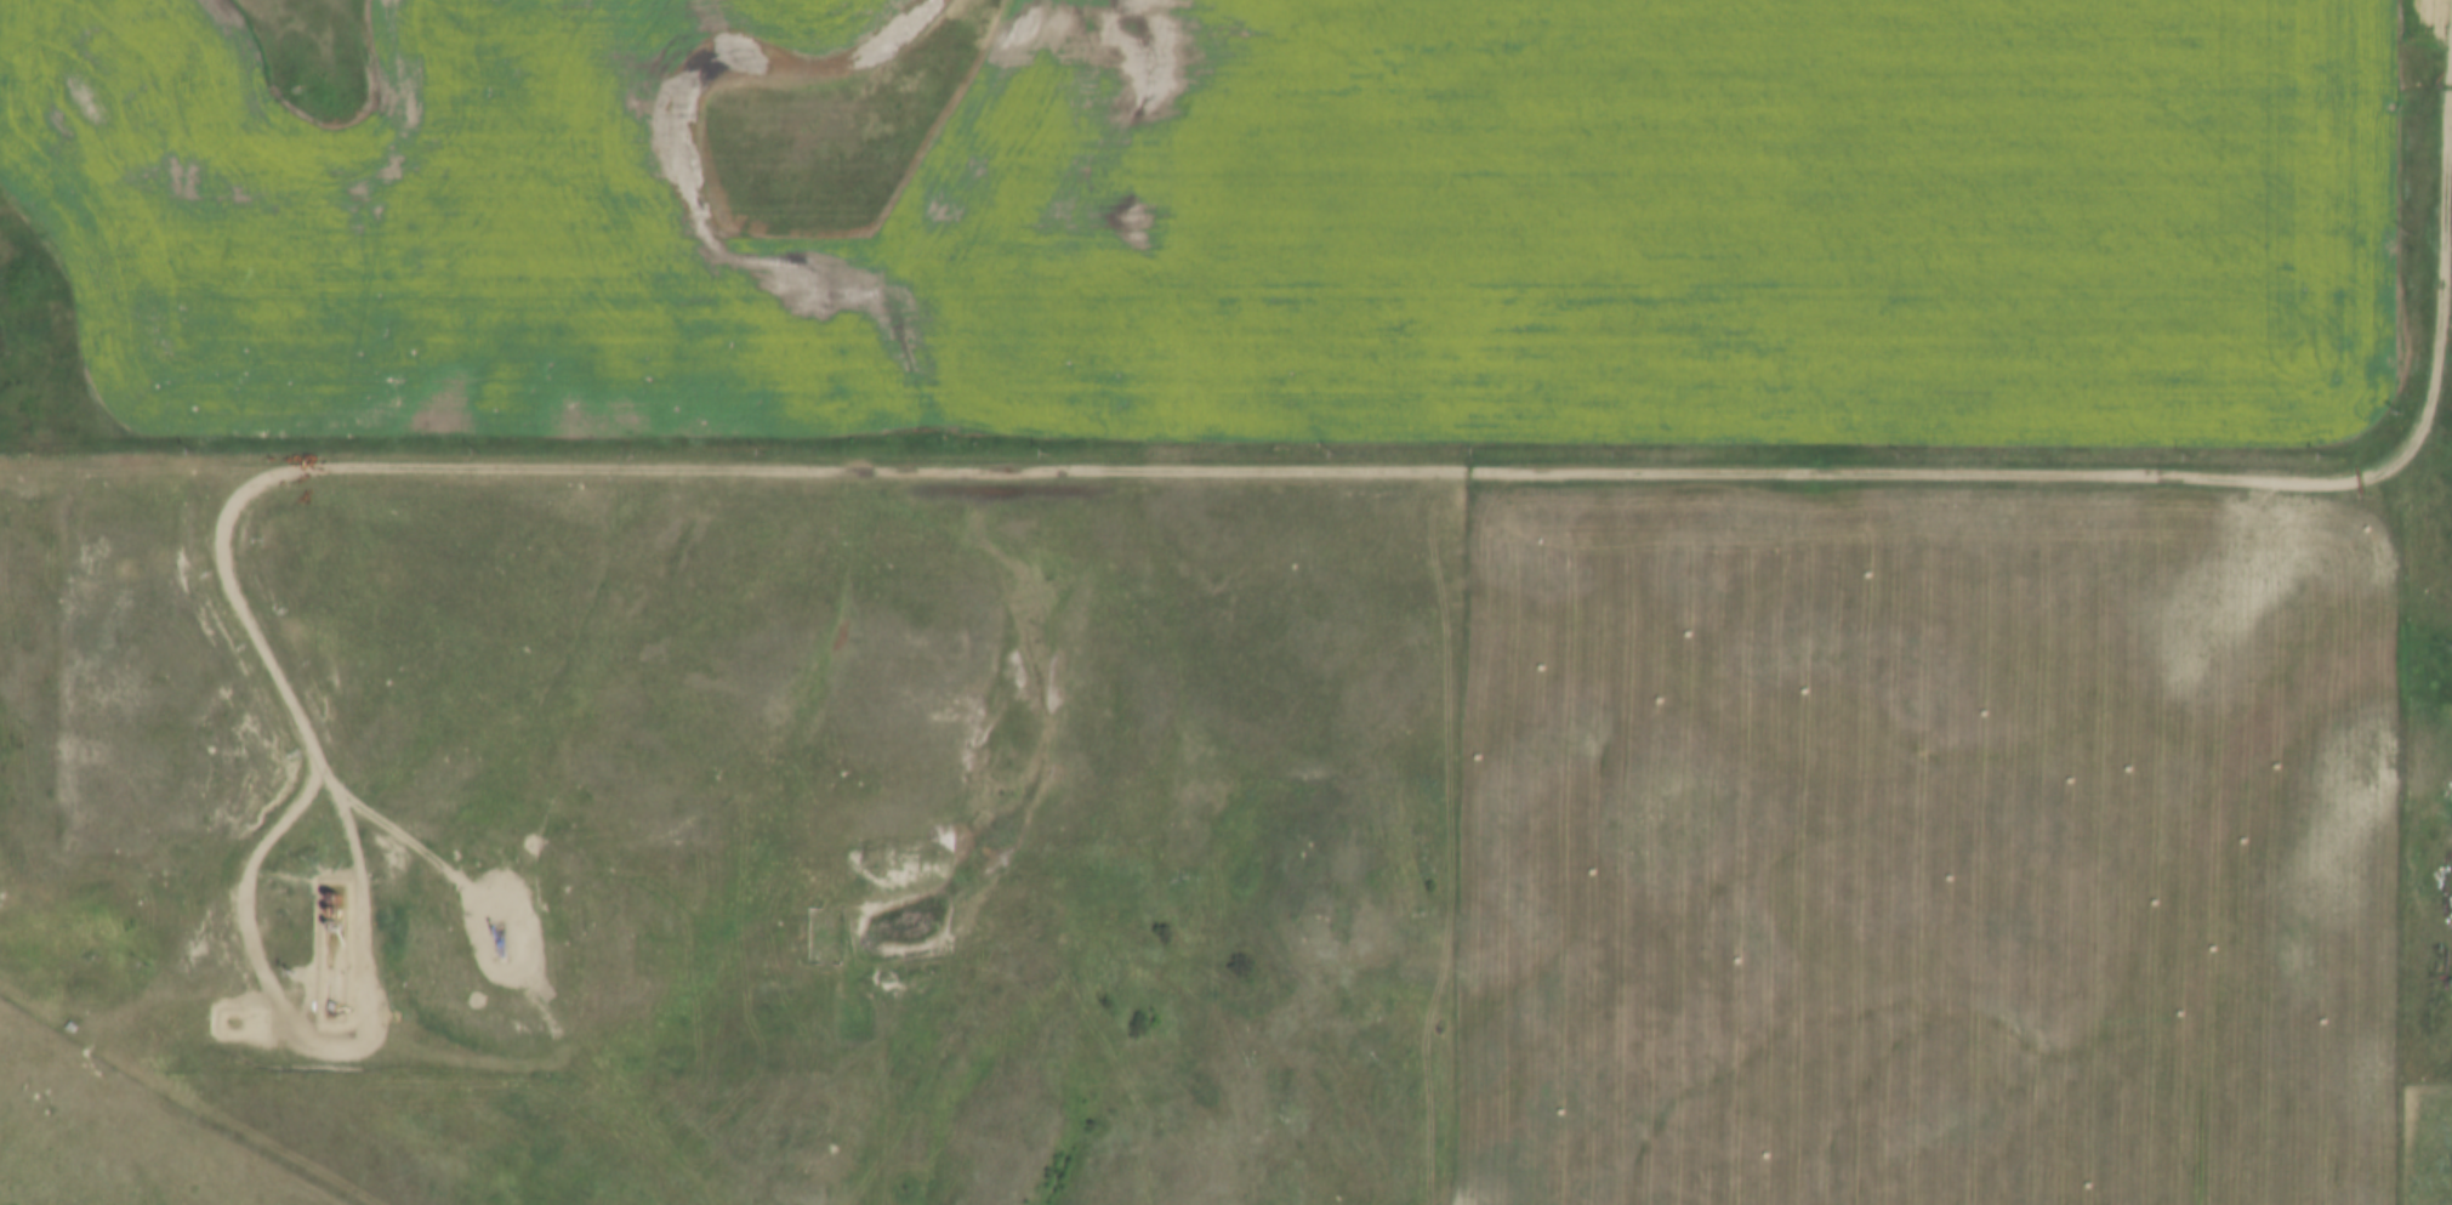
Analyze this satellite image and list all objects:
road: (2448, 175)
road: (2441, 240)
road: (142, 459)
road: (1350, 474)

